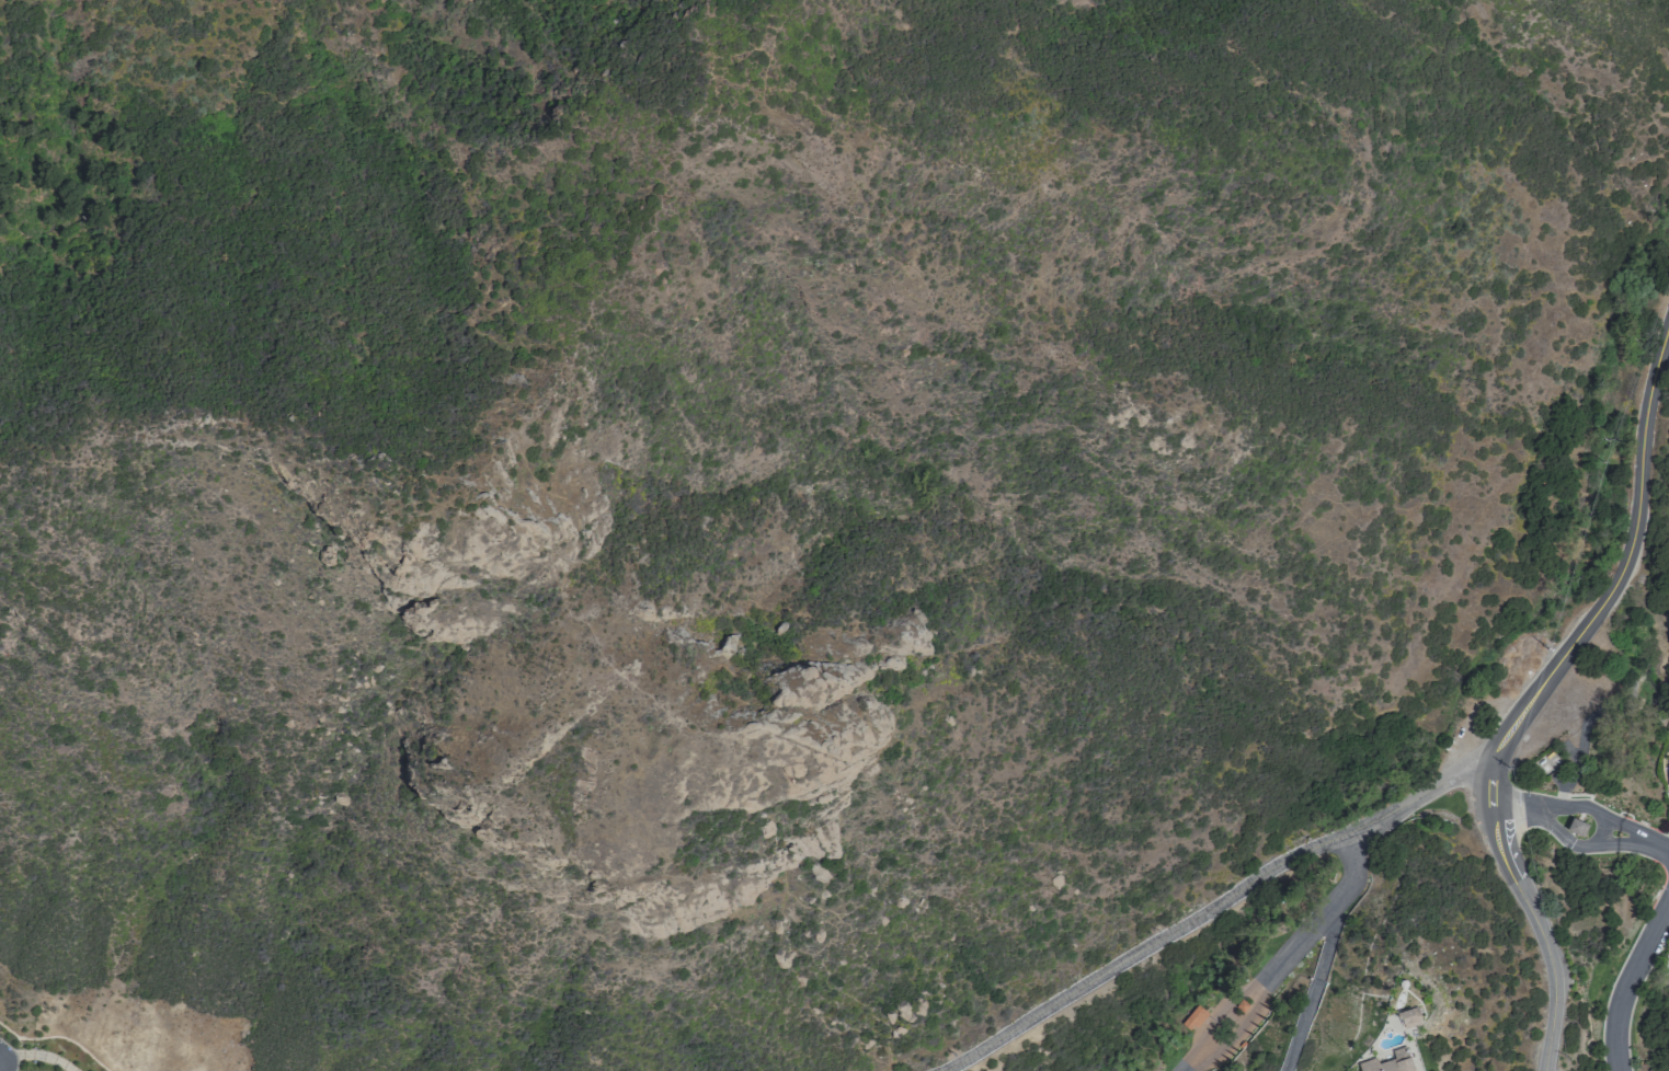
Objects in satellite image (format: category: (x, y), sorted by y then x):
road: (1630, 555)
road: (1478, 763)
building: (1668, 770)
road: (1495, 780)
road: (1557, 818)
building: (1578, 826)
road: (1645, 845)
road: (1198, 917)
road: (1542, 936)
road: (1308, 938)
road: (1326, 952)
road: (1630, 983)
building: (1196, 1017)
building: (1411, 1017)
road: (1302, 1026)
road: (1204, 1049)
building: (1391, 1062)

